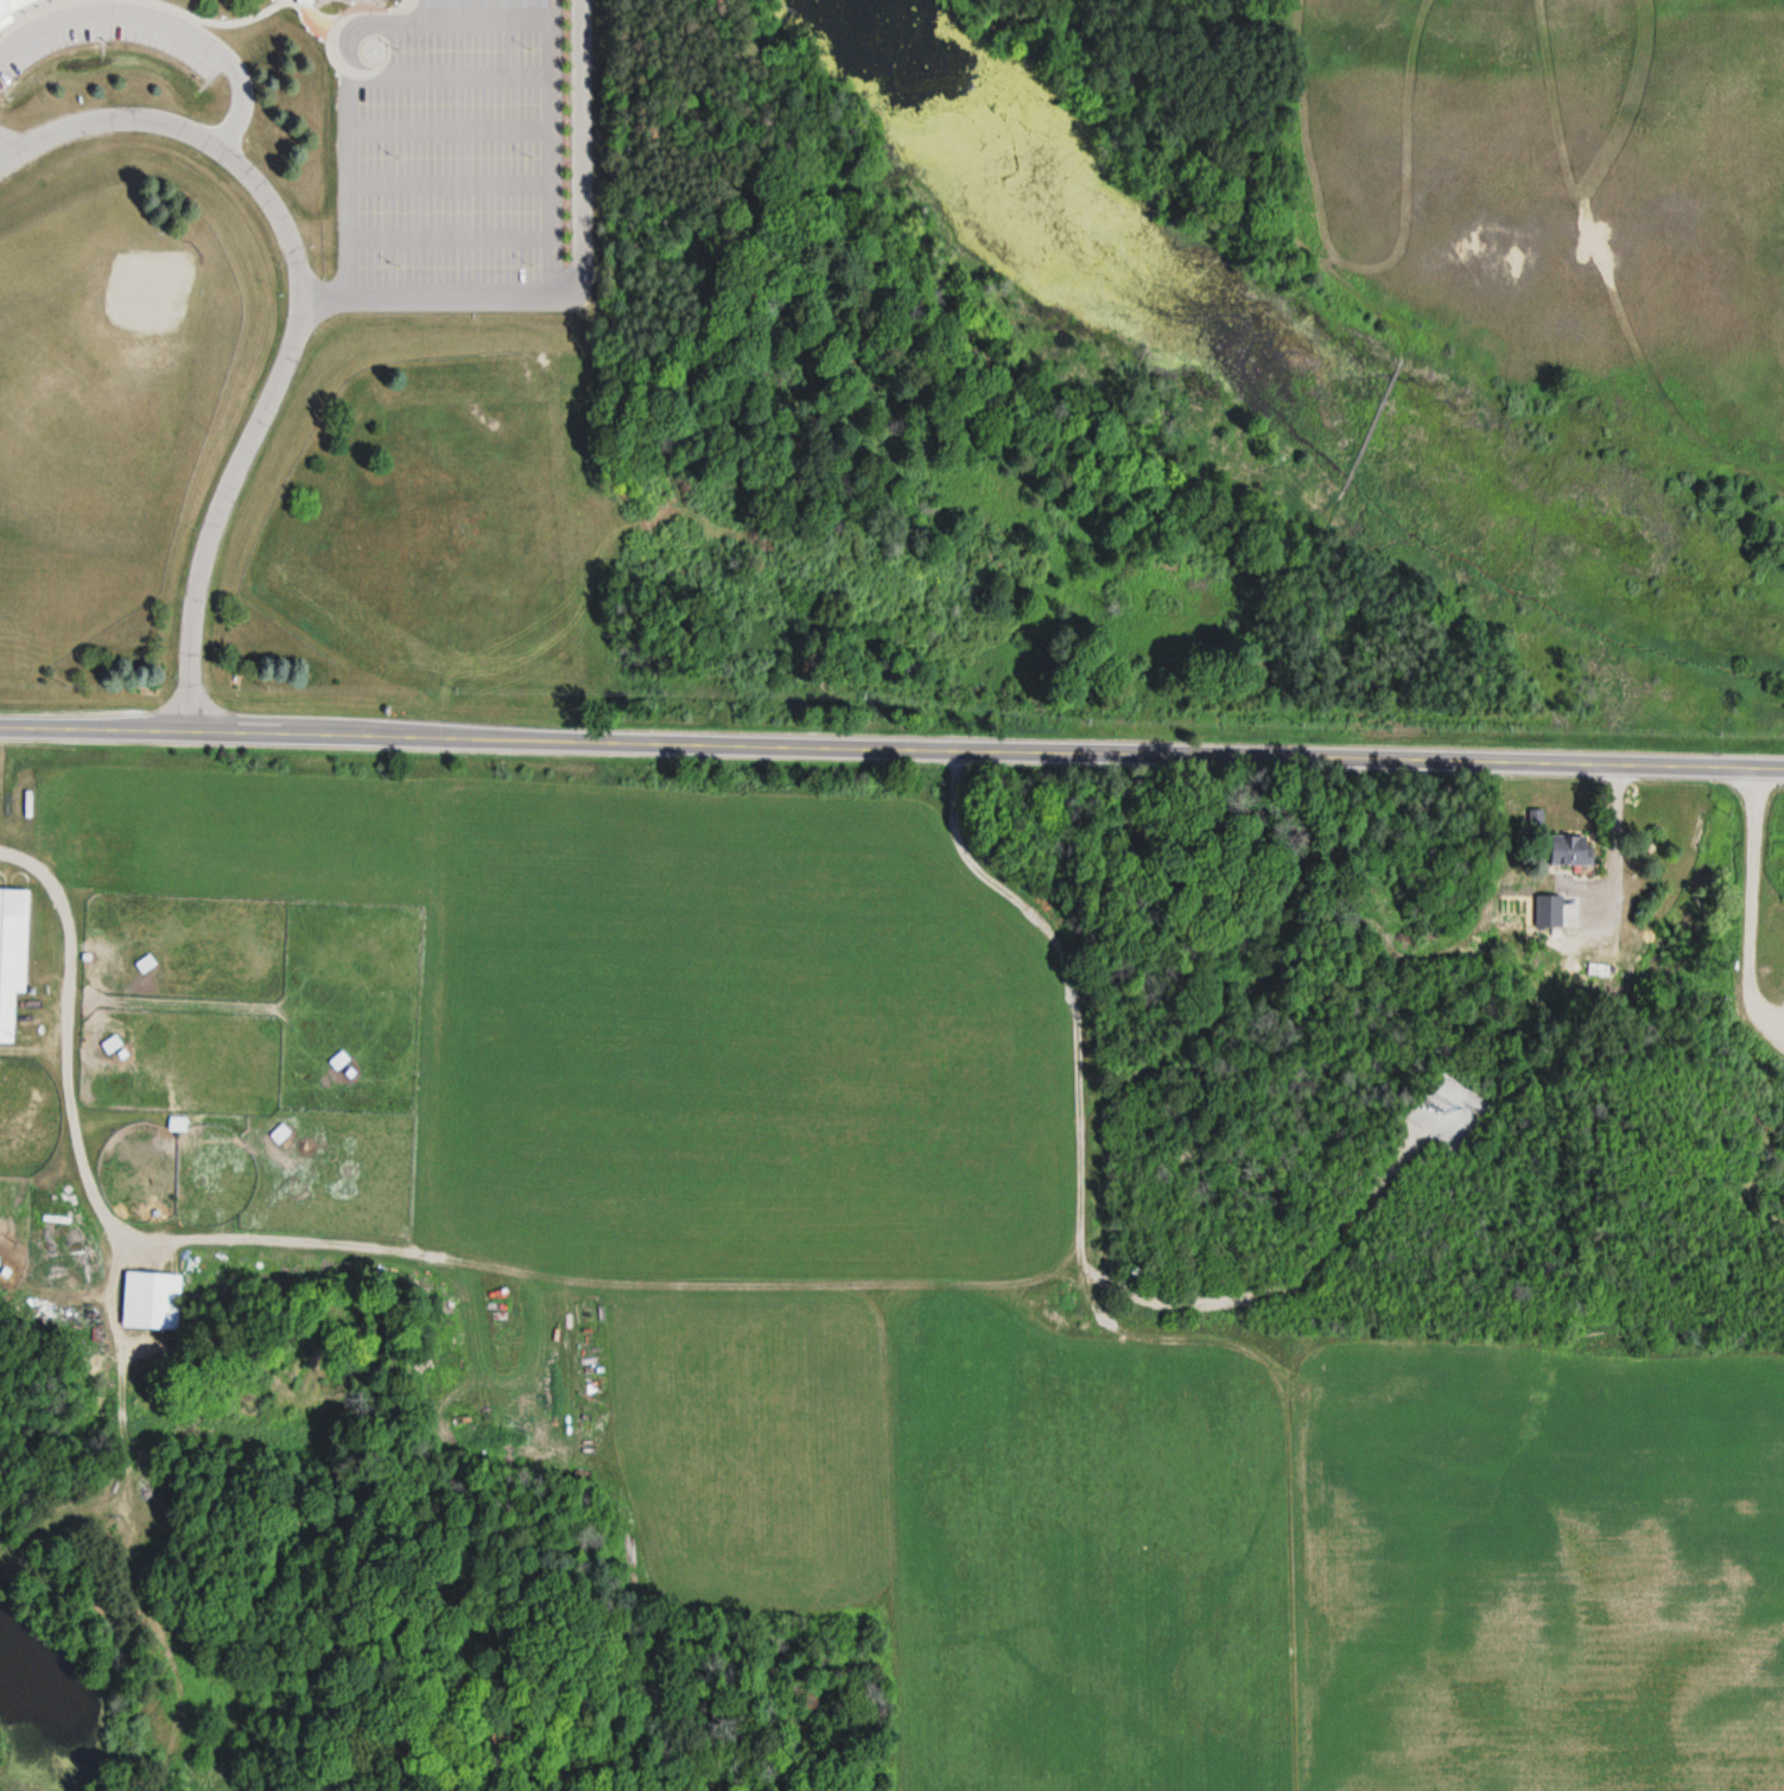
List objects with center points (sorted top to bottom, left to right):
building: (304, 2)
building: (12, 6)
road: (158, 24)
parking lot: (110, 42)
road: (548, 82)
road: (349, 90)
road: (449, 133)
road: (192, 135)
parking lot: (447, 148)
road: (6, 151)
road: (450, 186)
road: (451, 241)
road: (360, 299)
road: (891, 747)
building: (1572, 851)
building: (1548, 913)
building: (11, 954)
building: (150, 1302)
road: (1099, 1319)

